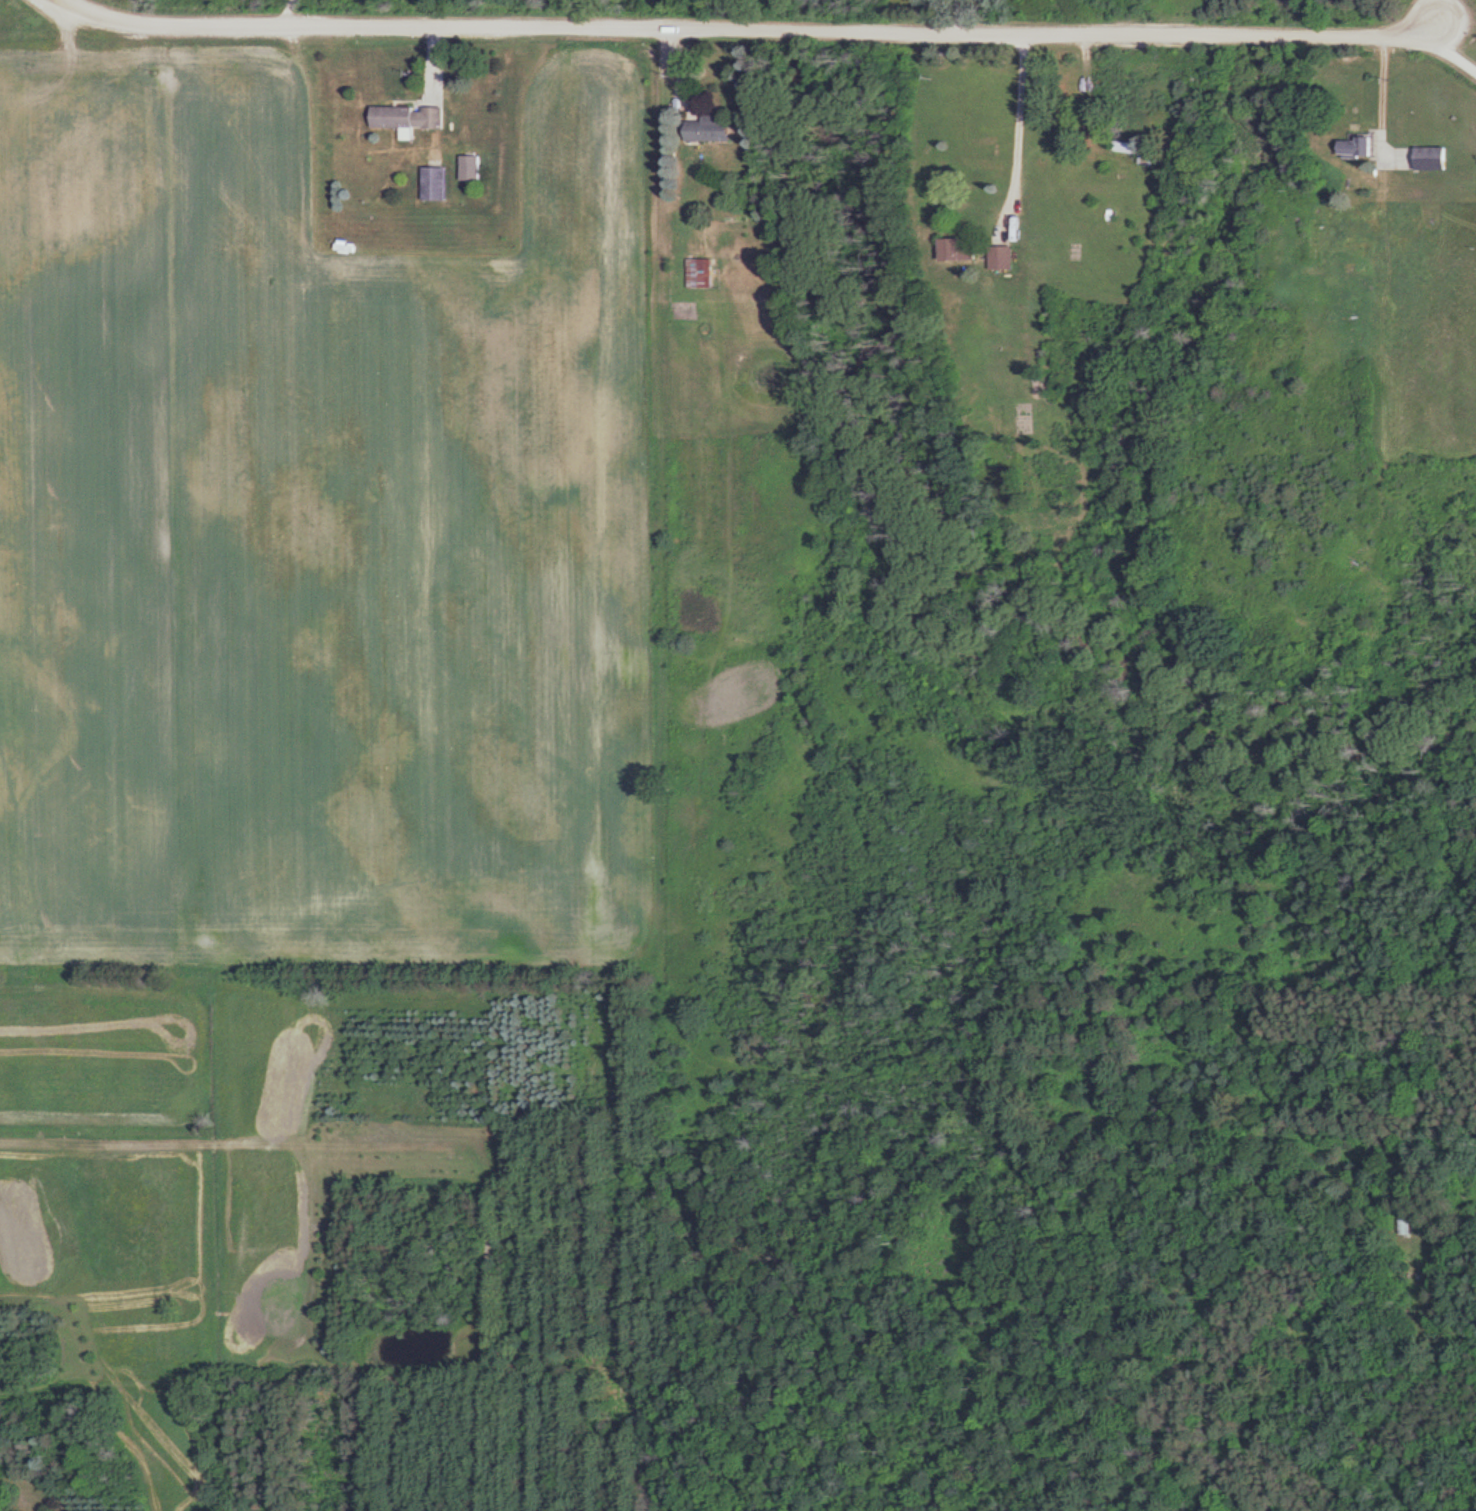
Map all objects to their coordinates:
road: (283, 12)
road: (750, 29)
road: (1452, 51)
building: (399, 115)
building: (438, 116)
building: (717, 127)
road: (1018, 132)
building: (1350, 146)
building: (1140, 150)
building: (1428, 157)
building: (474, 166)
building: (440, 182)
building: (1312, 238)
building: (967, 248)
building: (1007, 256)
building: (706, 272)
building: (1402, 1226)

